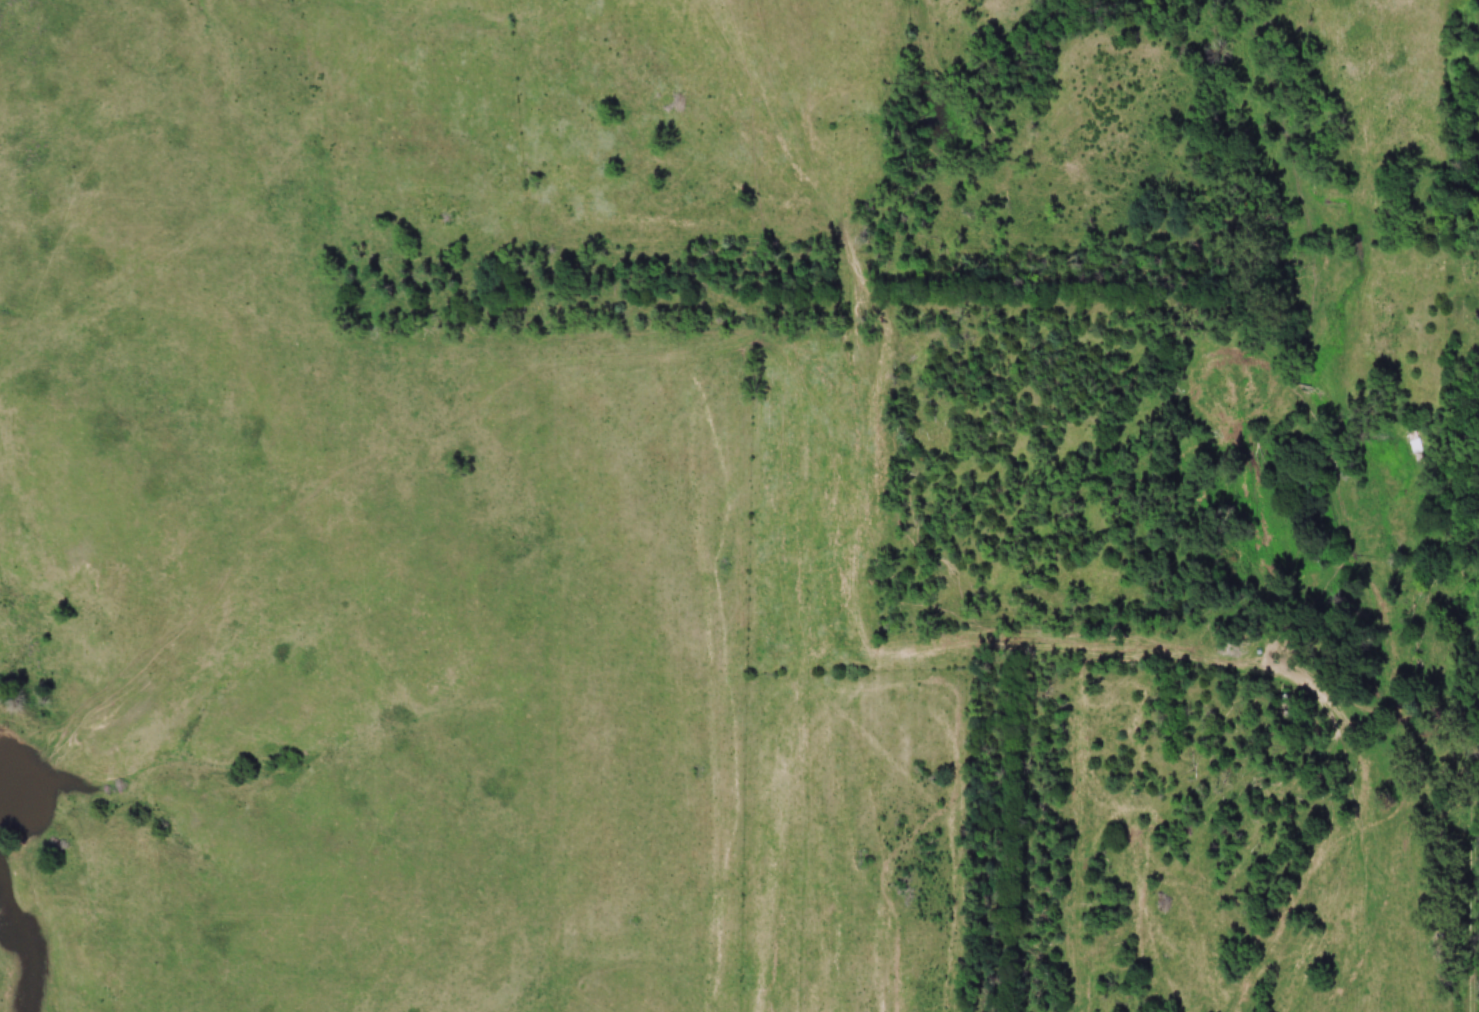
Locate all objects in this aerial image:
road: (1465, 960)

